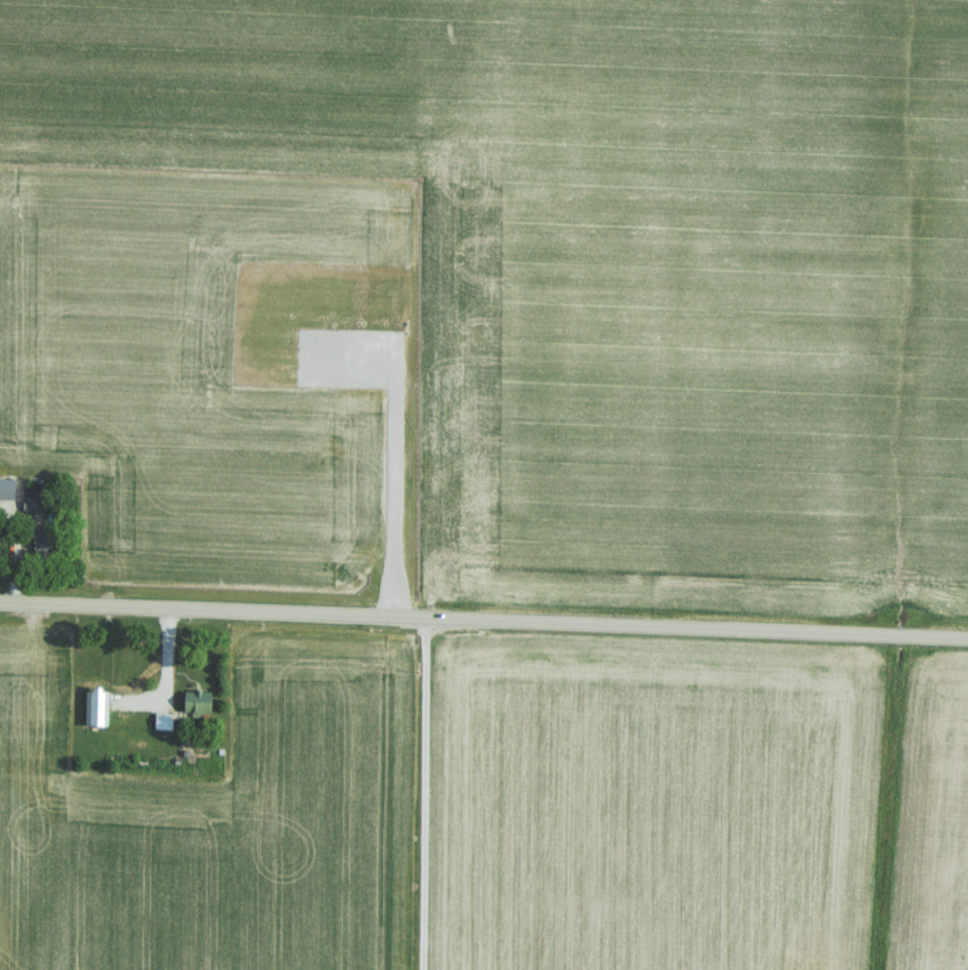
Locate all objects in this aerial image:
crop: (572, 257)
crop: (941, 335)
crop: (218, 378)
road: (483, 618)
road: (170, 666)
building: (195, 701)
building: (96, 708)
building: (161, 720)
road: (428, 793)

